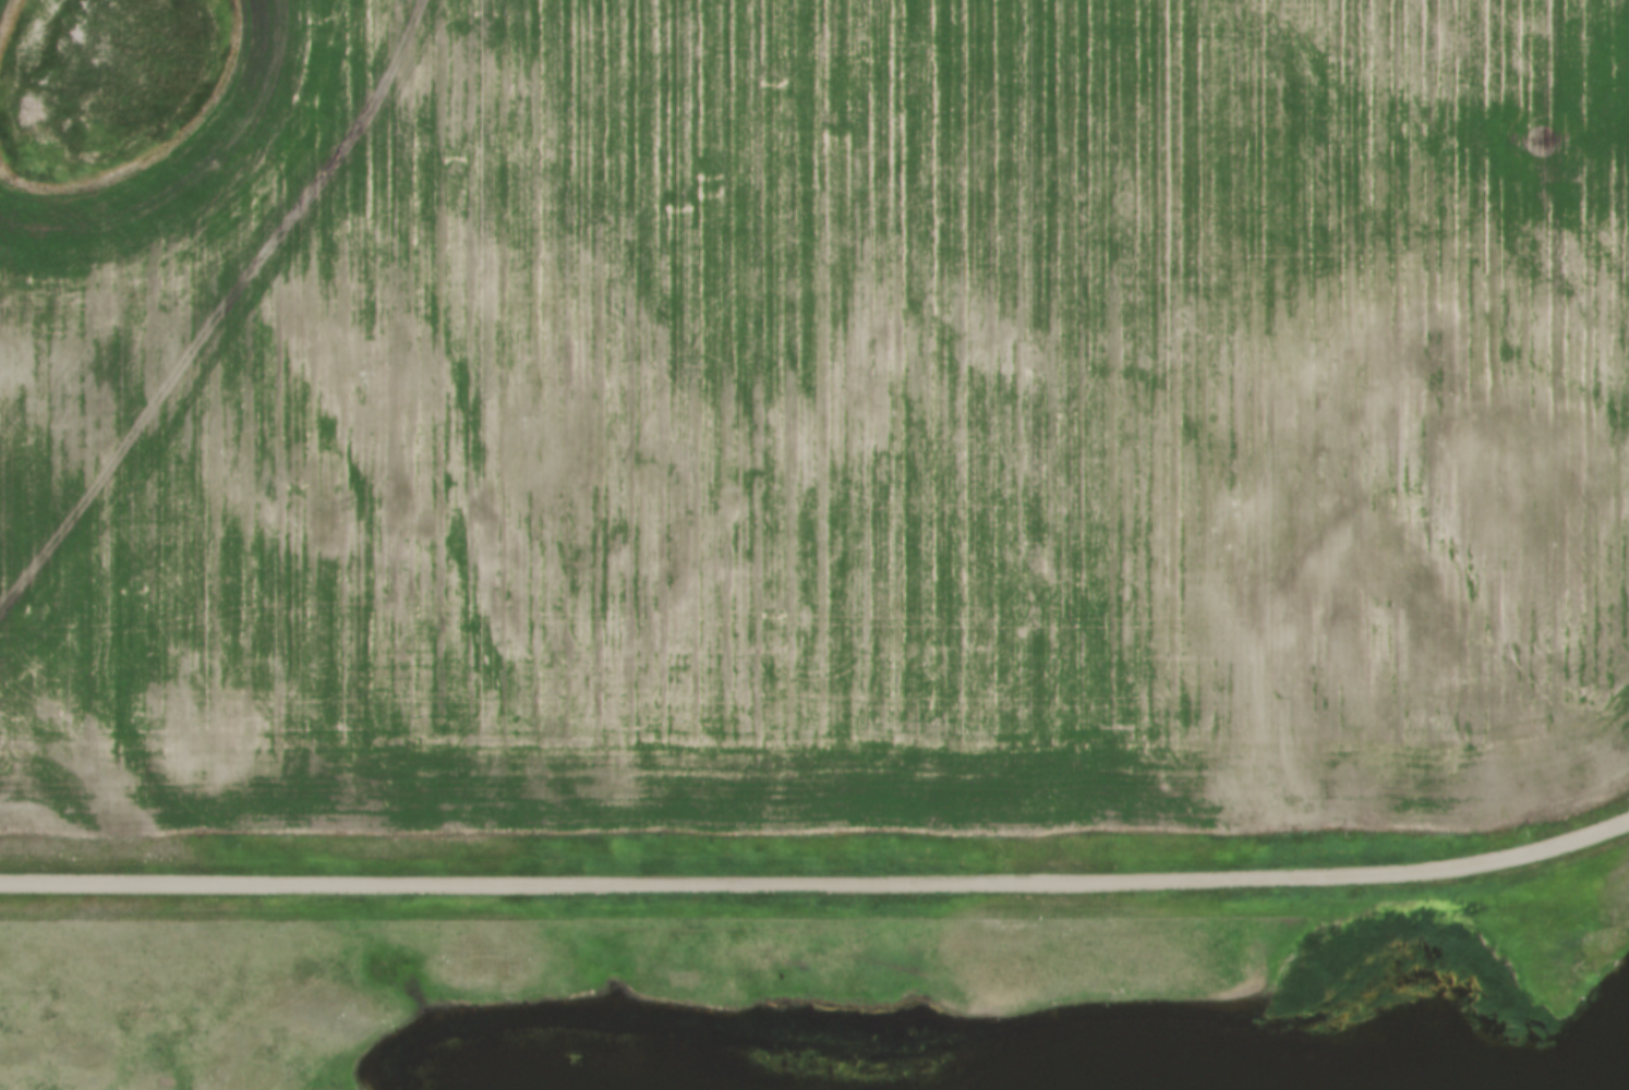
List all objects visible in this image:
road: (818, 882)

